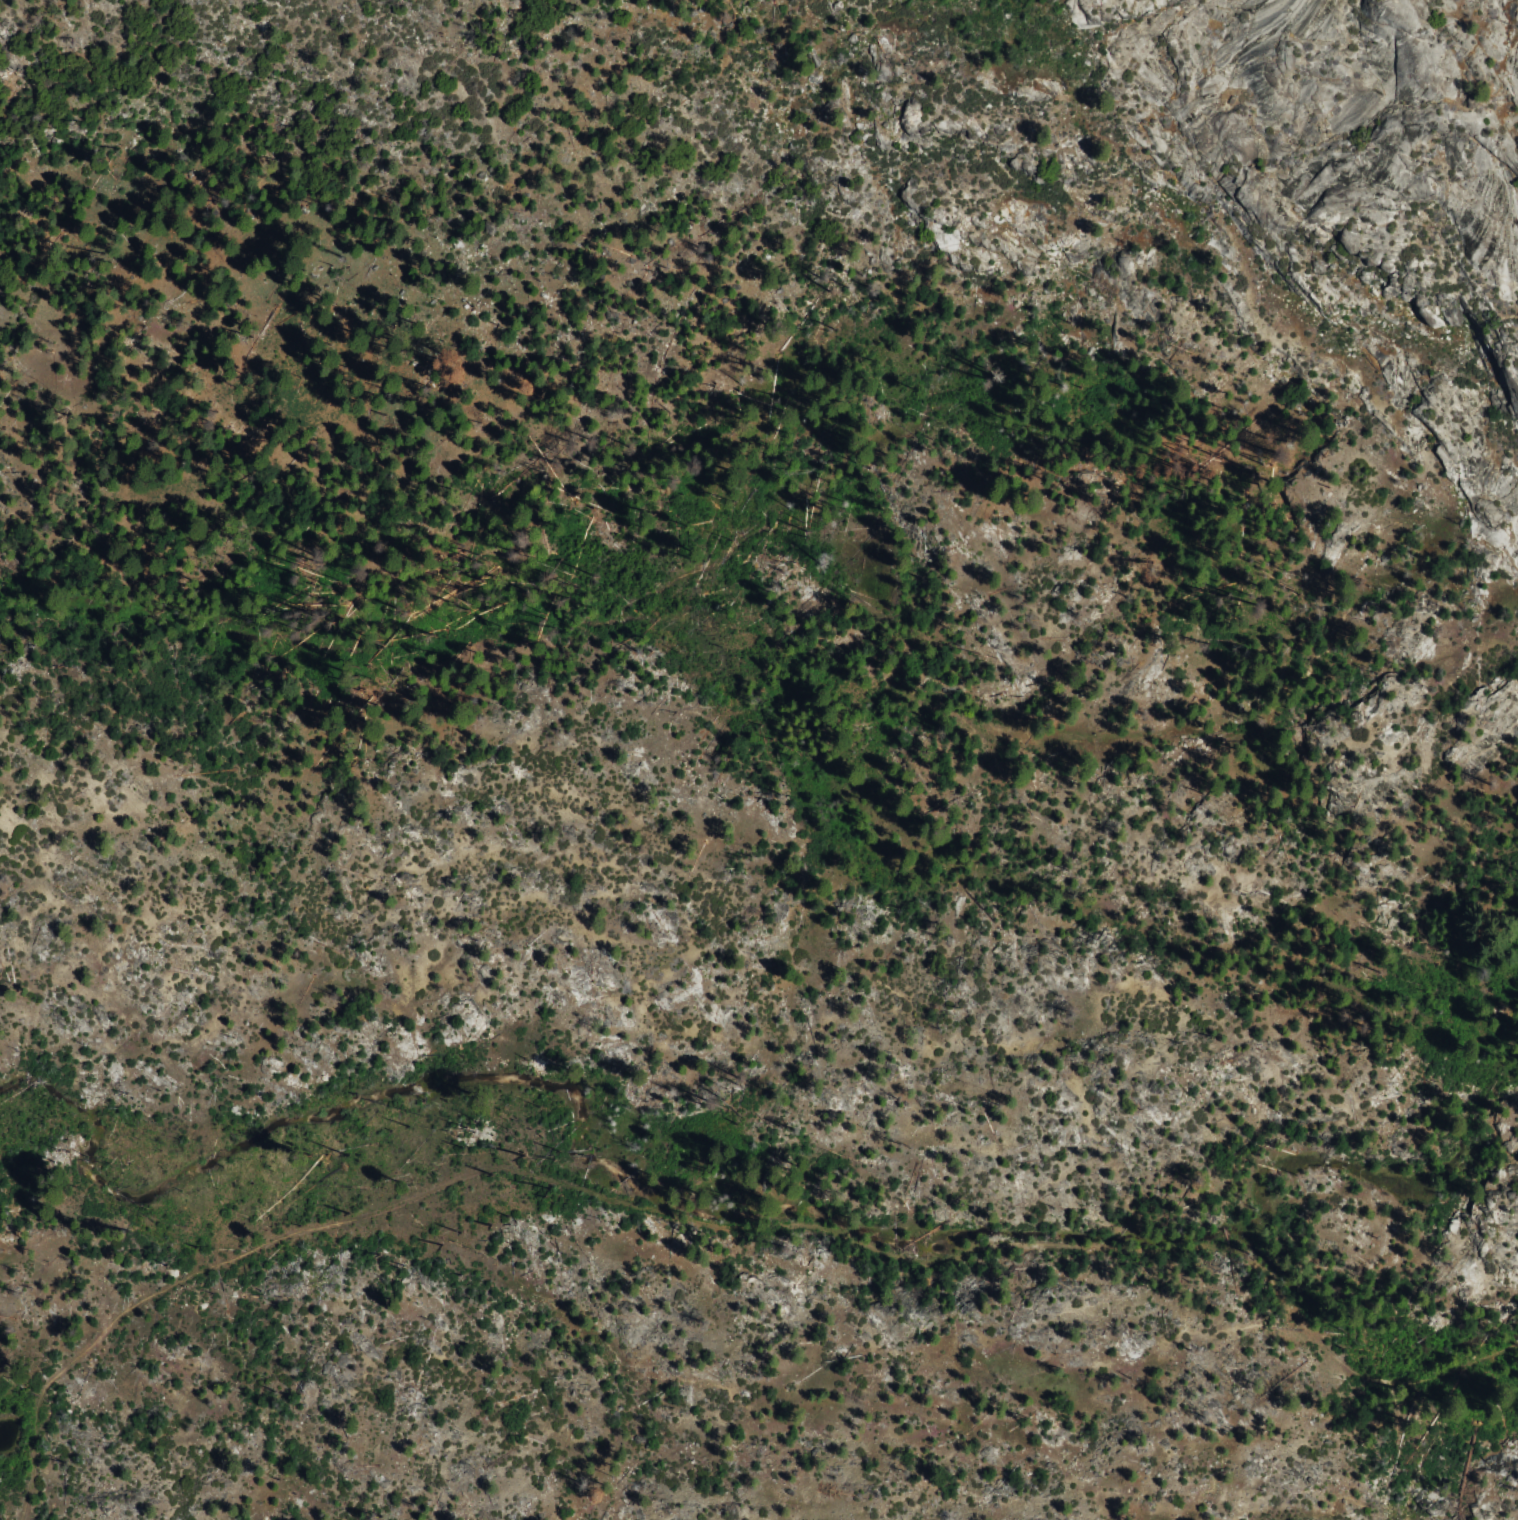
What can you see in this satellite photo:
road: (710, 1221)

